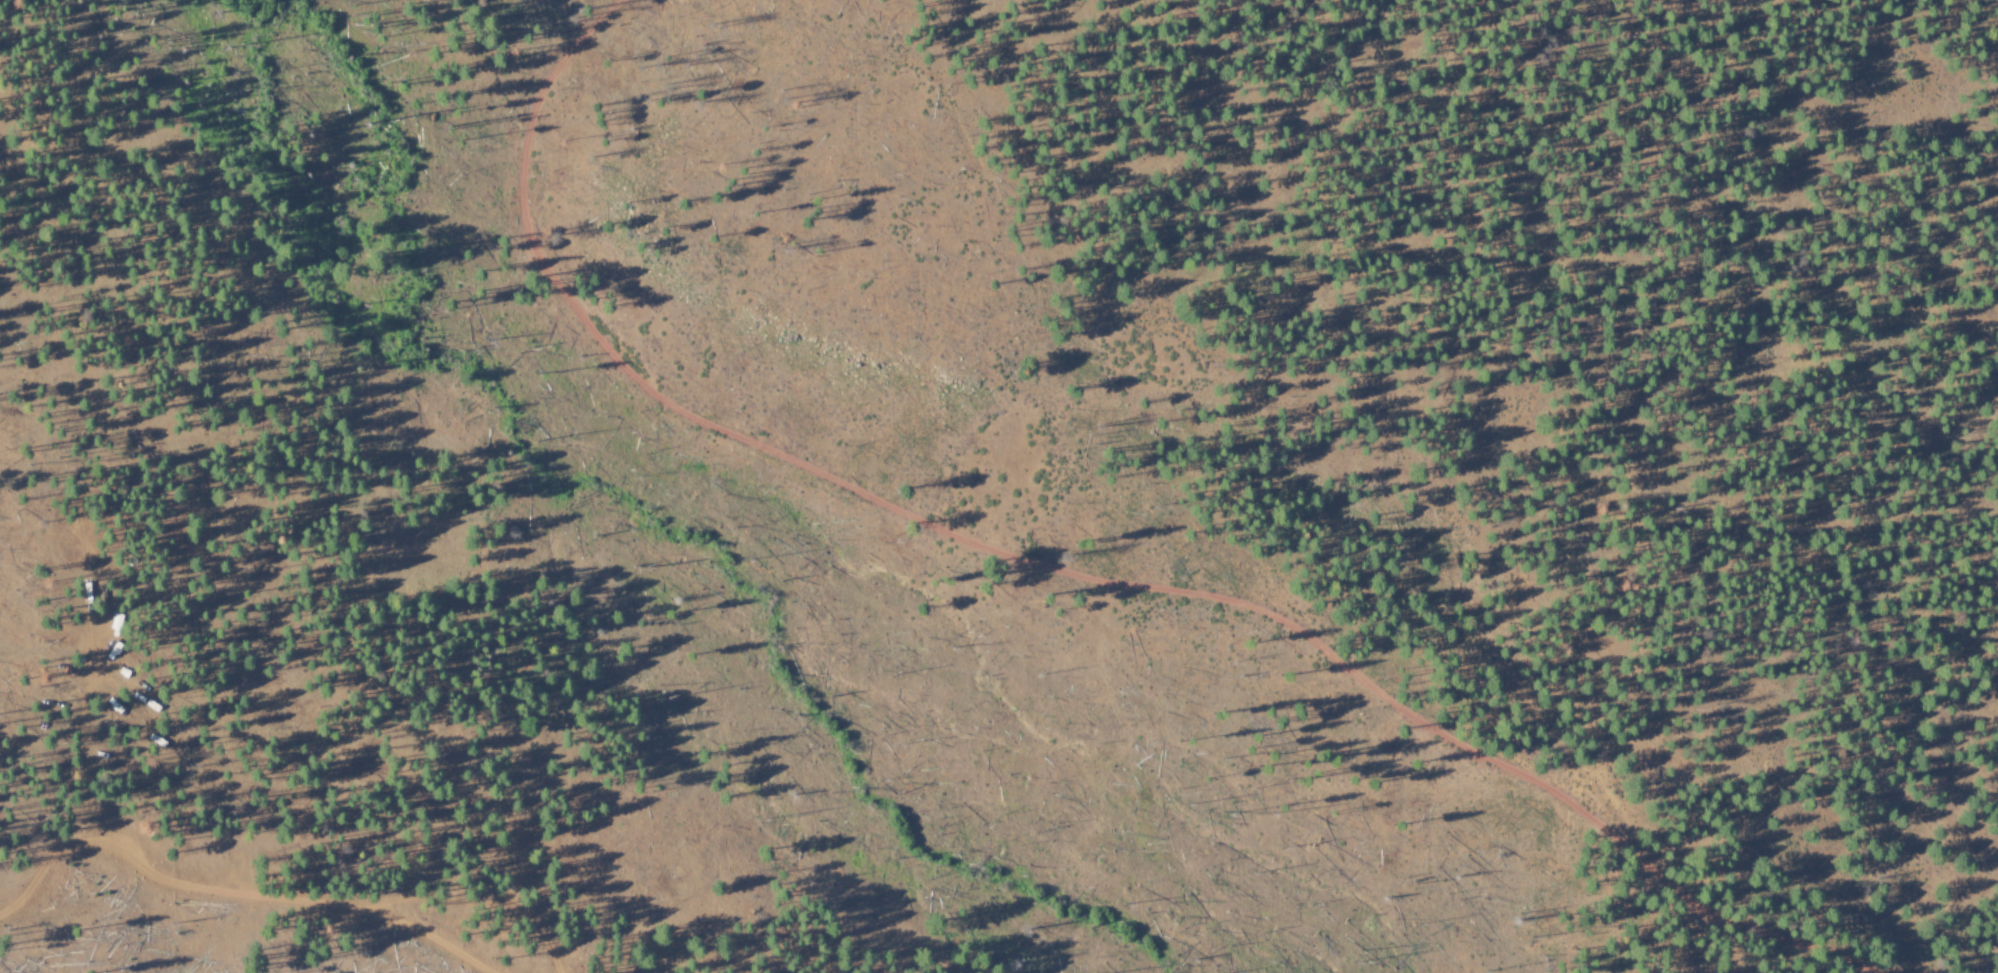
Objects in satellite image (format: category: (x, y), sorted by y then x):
road: (1068, 573)
road: (231, 901)

